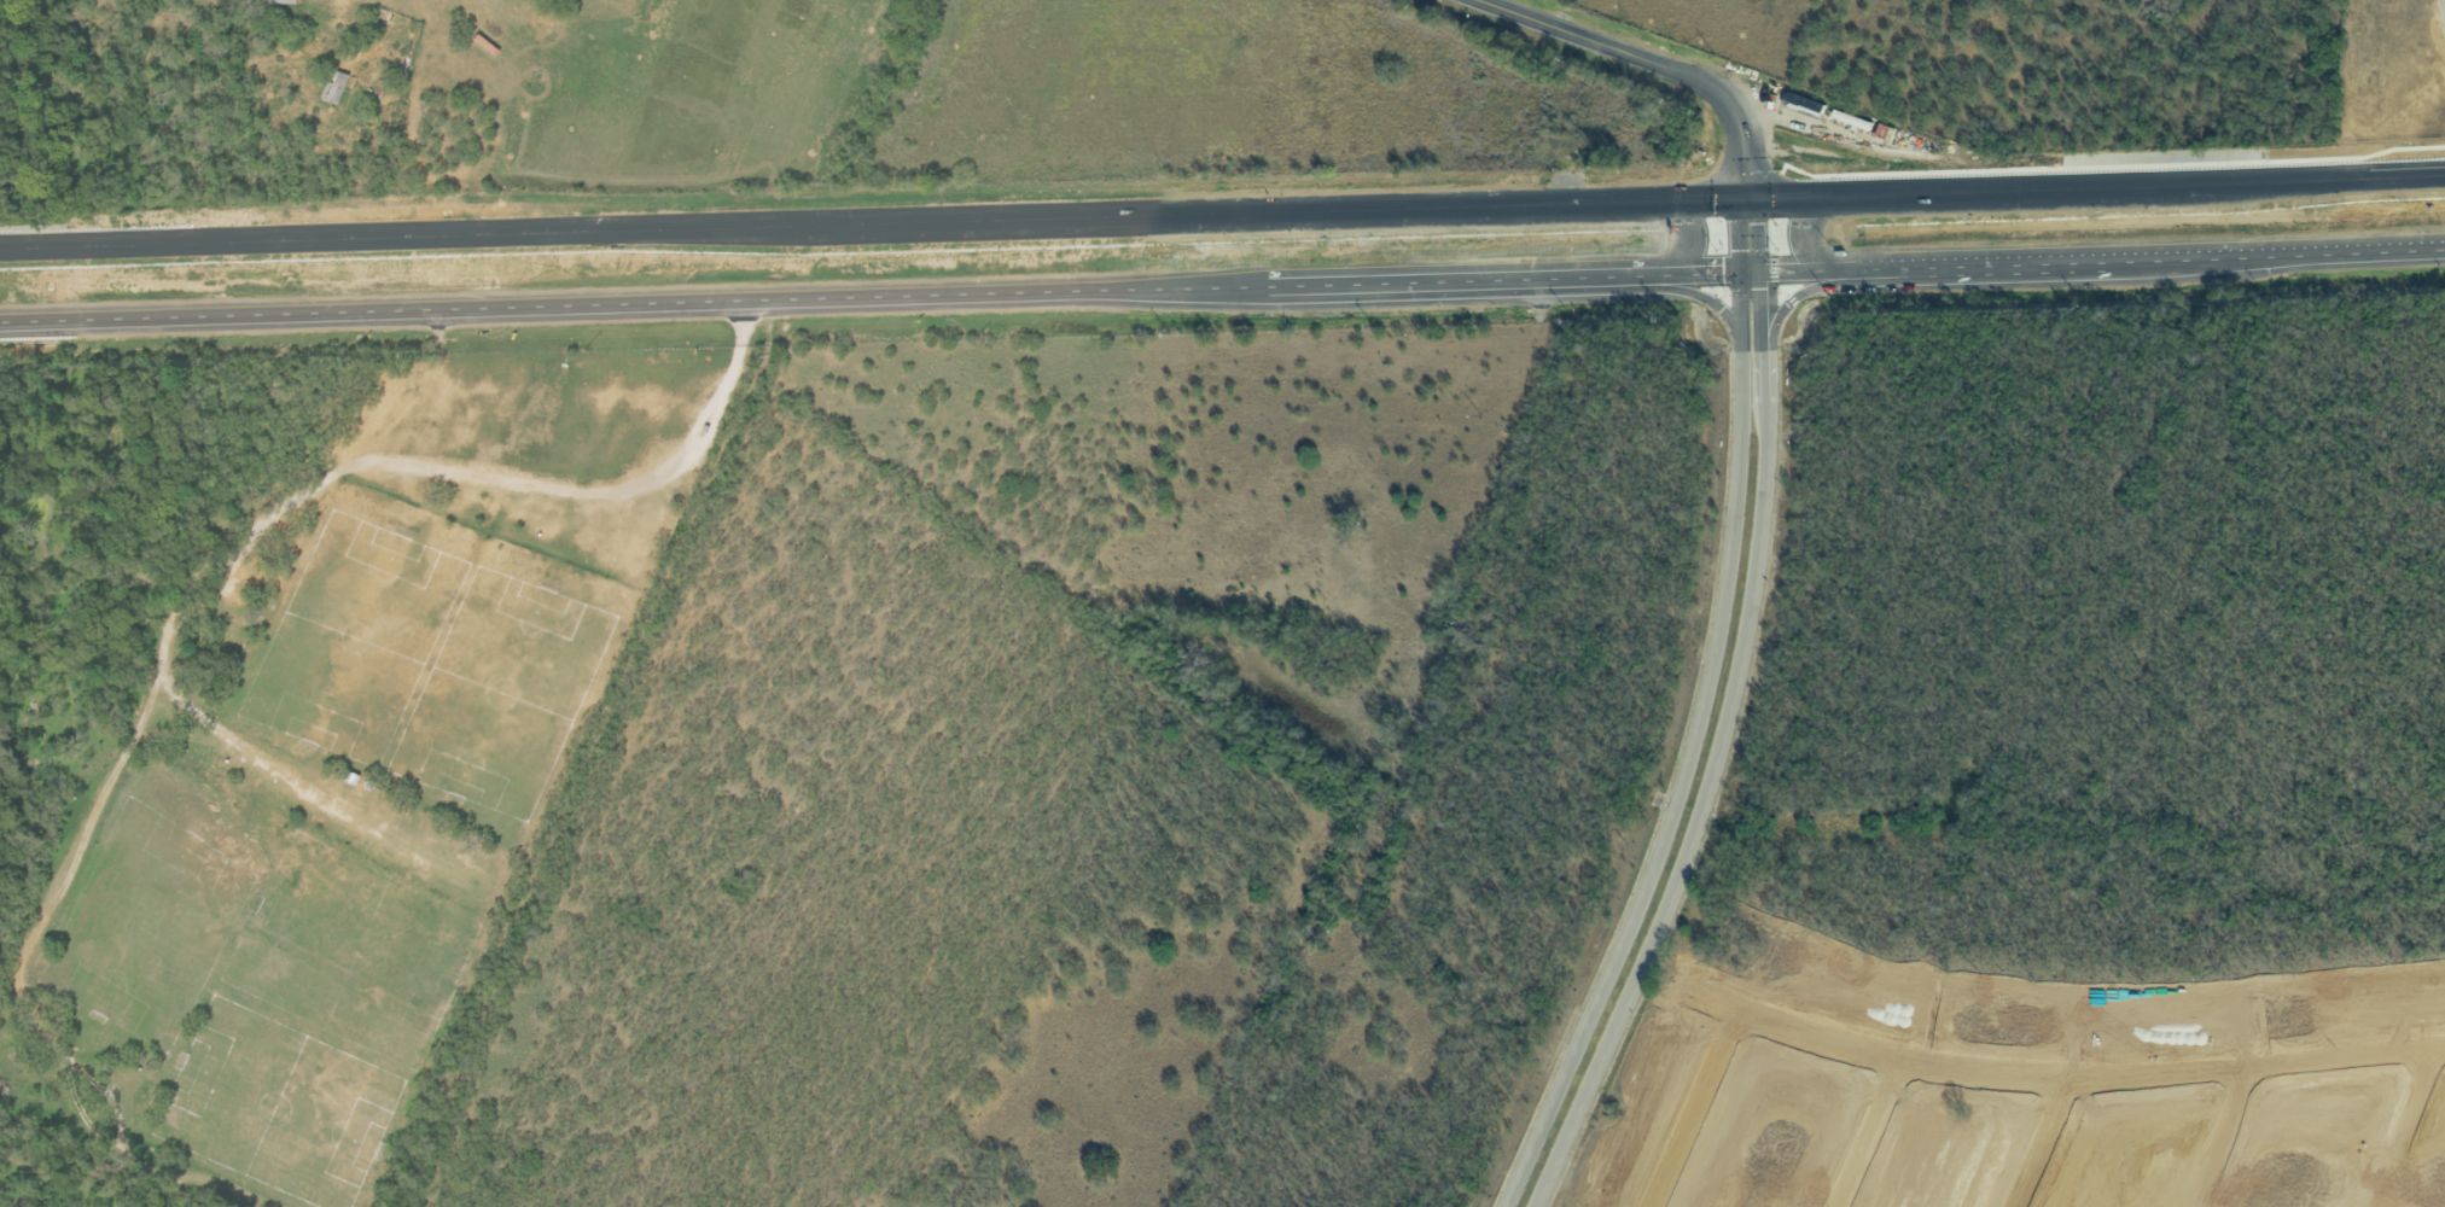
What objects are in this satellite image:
building: (283, 1)
road: (2443, 6)
road: (1676, 70)
building: (336, 88)
building: (1801, 104)
traffic signals: (1746, 198)
road: (1222, 212)
road: (1804, 239)
road: (1688, 245)
road: (2385, 250)
road: (2212, 257)
road: (1742, 260)
road: (1753, 260)
road: (1970, 264)
road: (1788, 269)
traffic signals: (1758, 270)
traffic signals: (1737, 272)
road: (1694, 273)
road: (1459, 279)
road: (1172, 287)
road: (1702, 295)
road: (1794, 297)
road: (539, 304)
road: (1758, 305)
road: (1759, 369)
road: (1763, 420)
road: (1689, 754)
road: (1692, 835)
road: (2021, 1074)
road: (1692, 1107)
road: (2403, 1129)
road: (1864, 1131)
road: (2226, 1135)
road: (2037, 1143)

